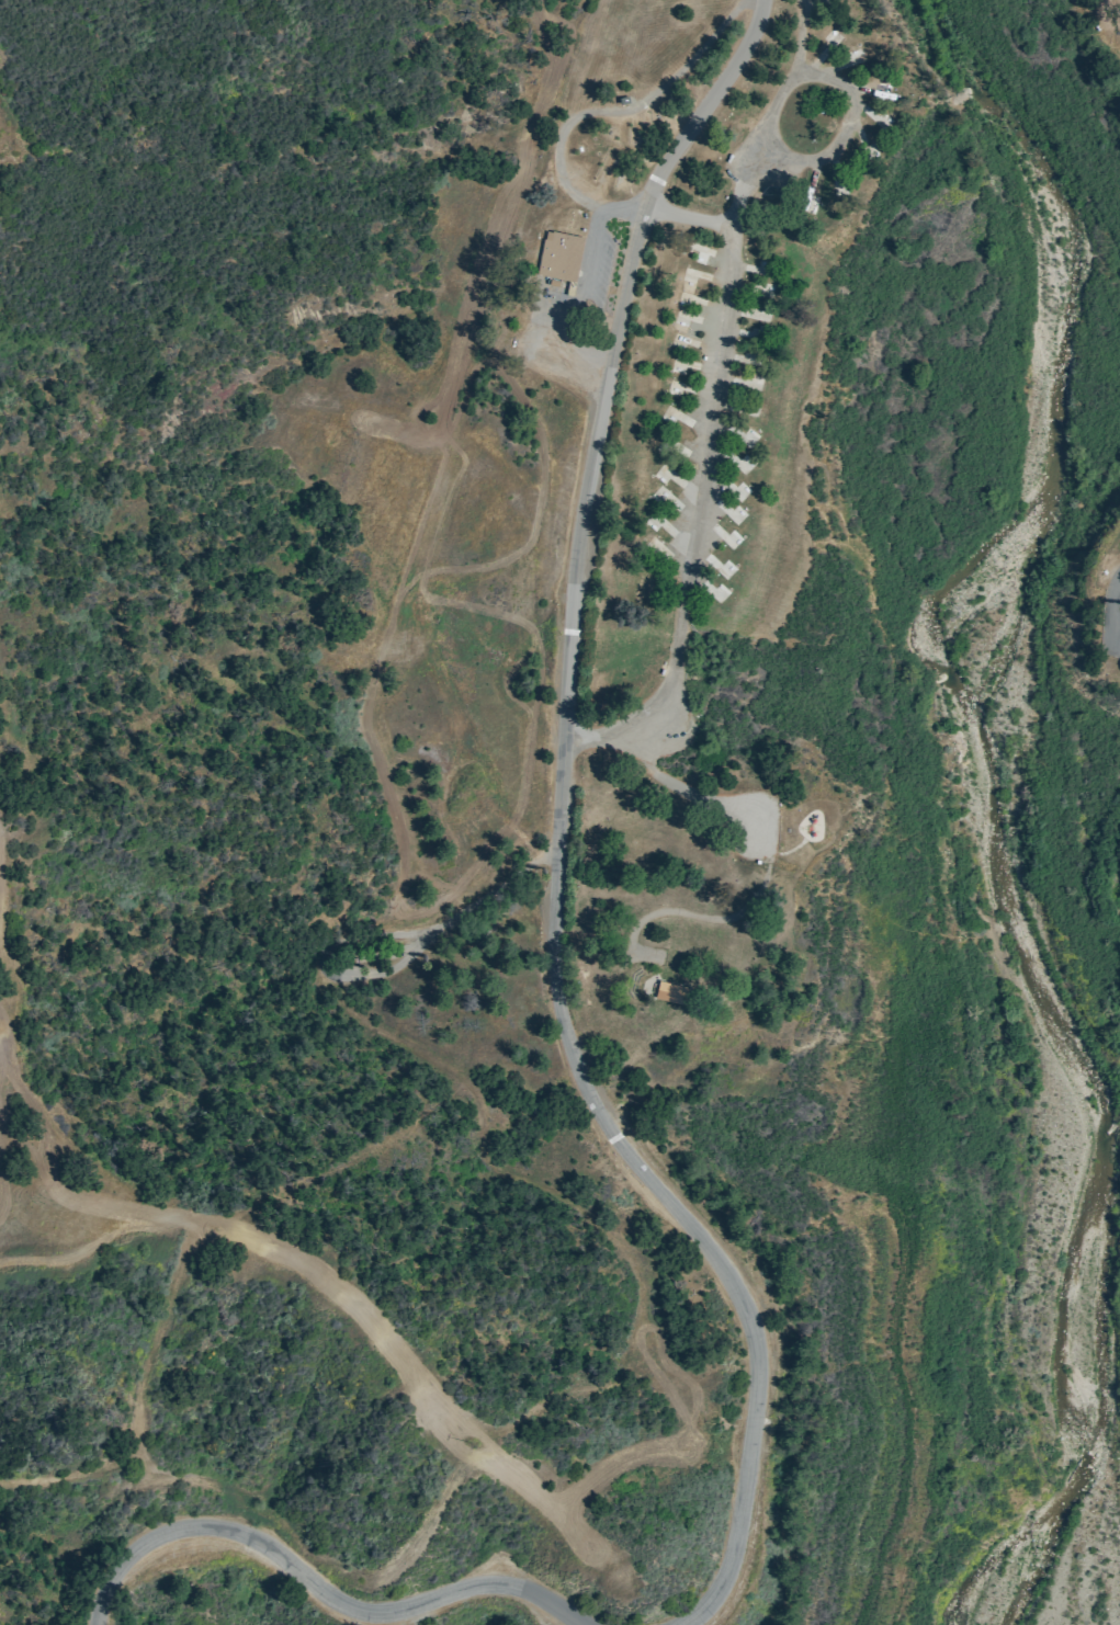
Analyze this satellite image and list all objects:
road: (850, 105)
road: (621, 111)
road: (753, 141)
road: (683, 217)
building: (558, 254)
parking lot: (600, 272)
road: (581, 280)
road: (706, 435)
building: (736, 491)
building: (724, 569)
road: (1112, 602)
road: (637, 719)
park: (559, 813)
road: (559, 839)
road: (768, 846)
road: (787, 851)
building: (667, 991)
road: (65, 1144)
road: (378, 1318)
road: (423, 1529)
road: (321, 1578)

